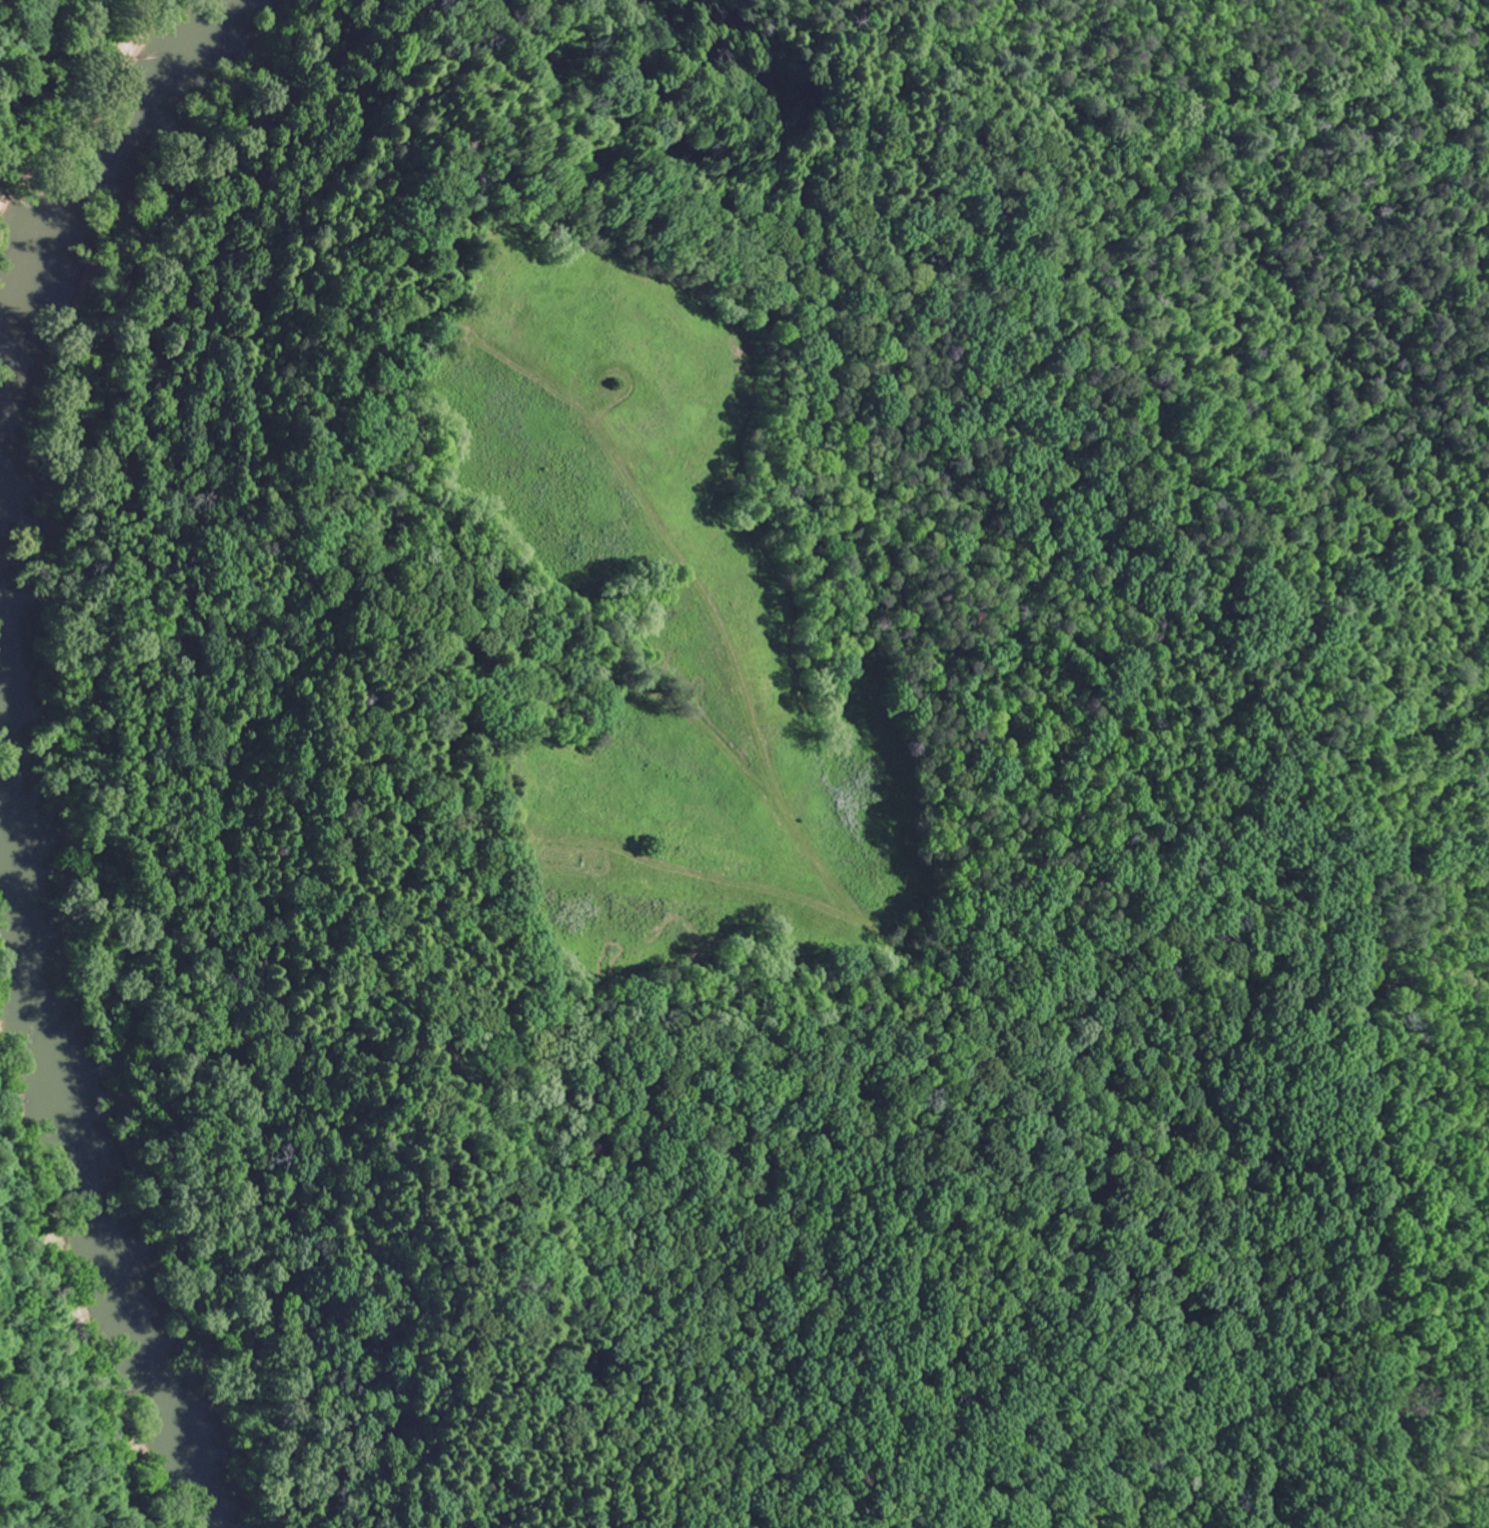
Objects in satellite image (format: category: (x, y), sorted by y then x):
river: (80, 195)
road: (908, 945)
river: (78, 1137)

